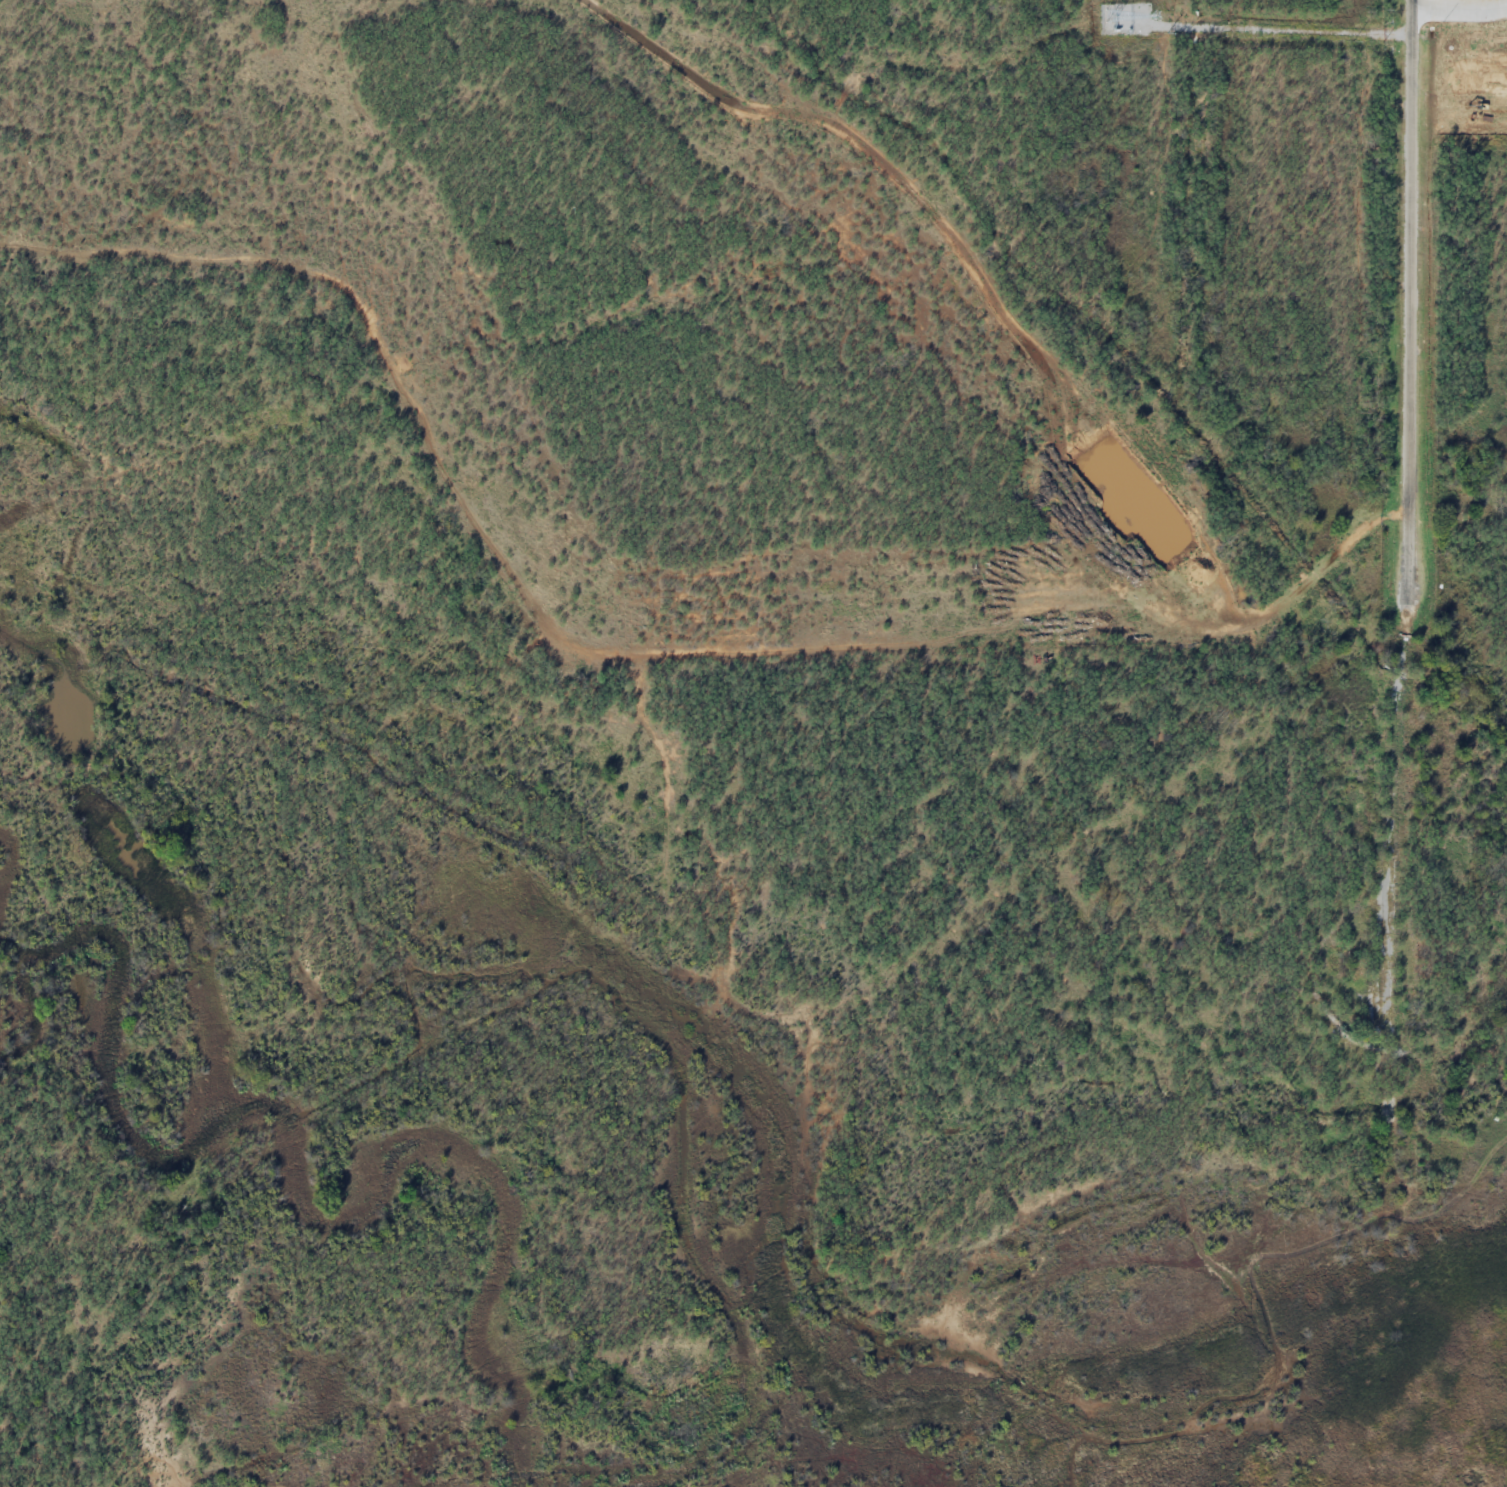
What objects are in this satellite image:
road: (1405, 310)

